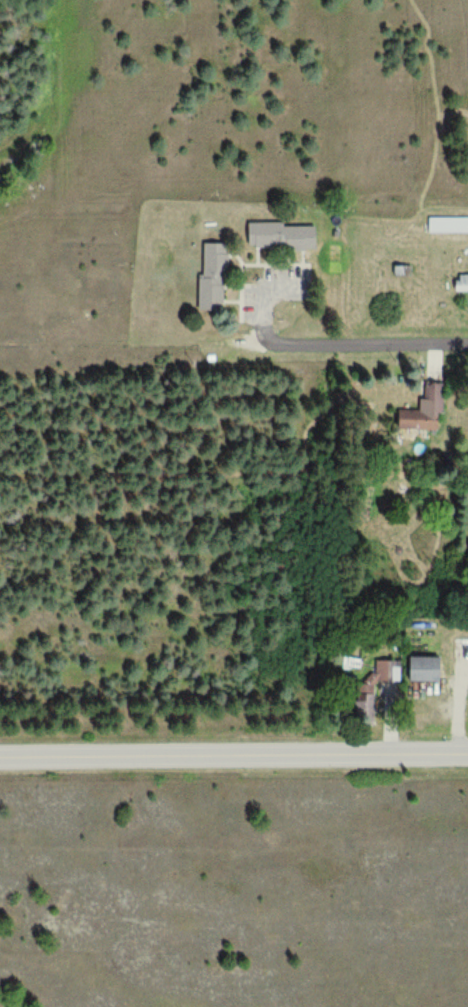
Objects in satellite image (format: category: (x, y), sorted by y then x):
building: (449, 223)
building: (284, 234)
building: (215, 275)
building: (461, 282)
road: (366, 341)
building: (423, 415)
building: (428, 667)
building: (381, 674)
road: (234, 752)

